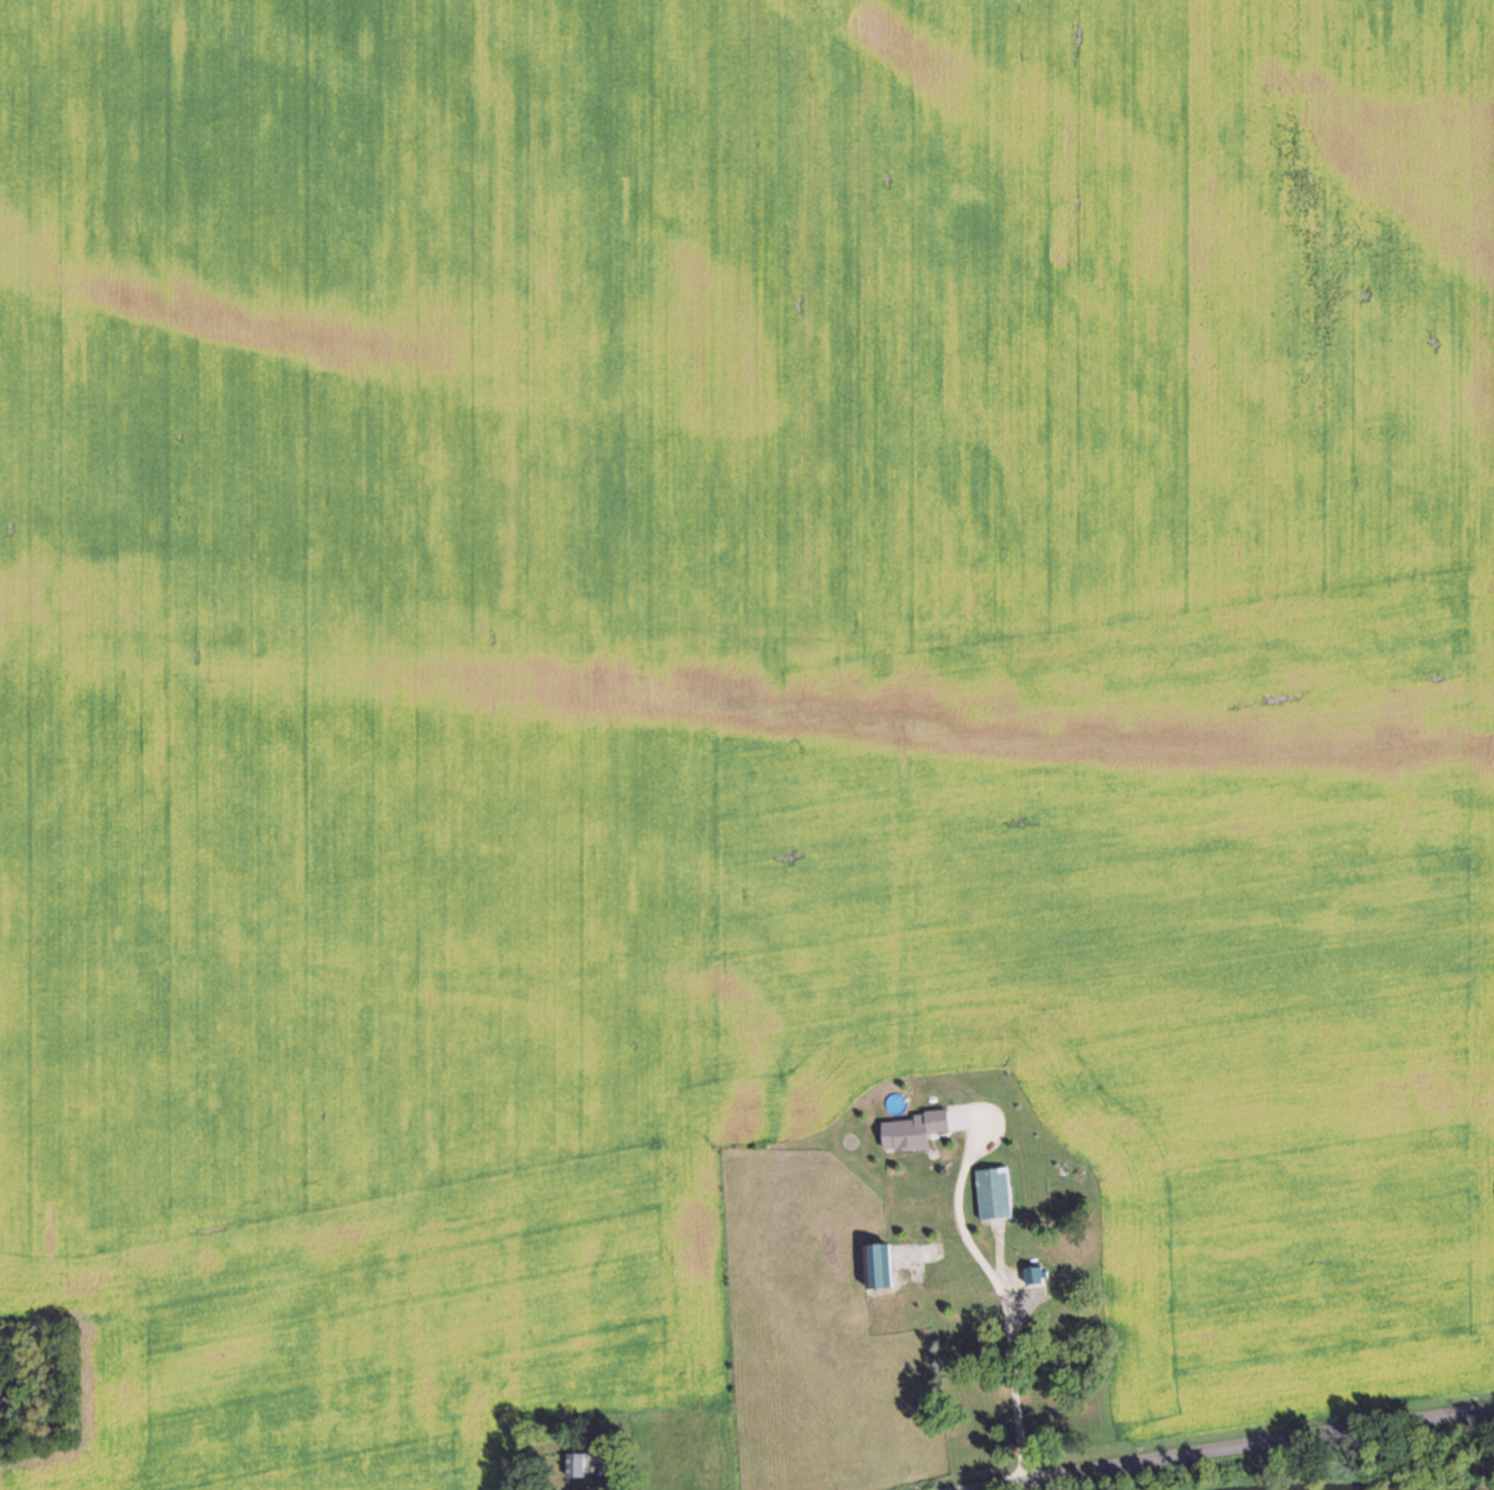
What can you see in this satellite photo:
building: (996, 1193)
building: (881, 1265)
building: (1038, 1275)
road: (1004, 1297)
building: (1061, 1309)
road: (1254, 1451)
building: (587, 1459)
road: (598, 1478)

